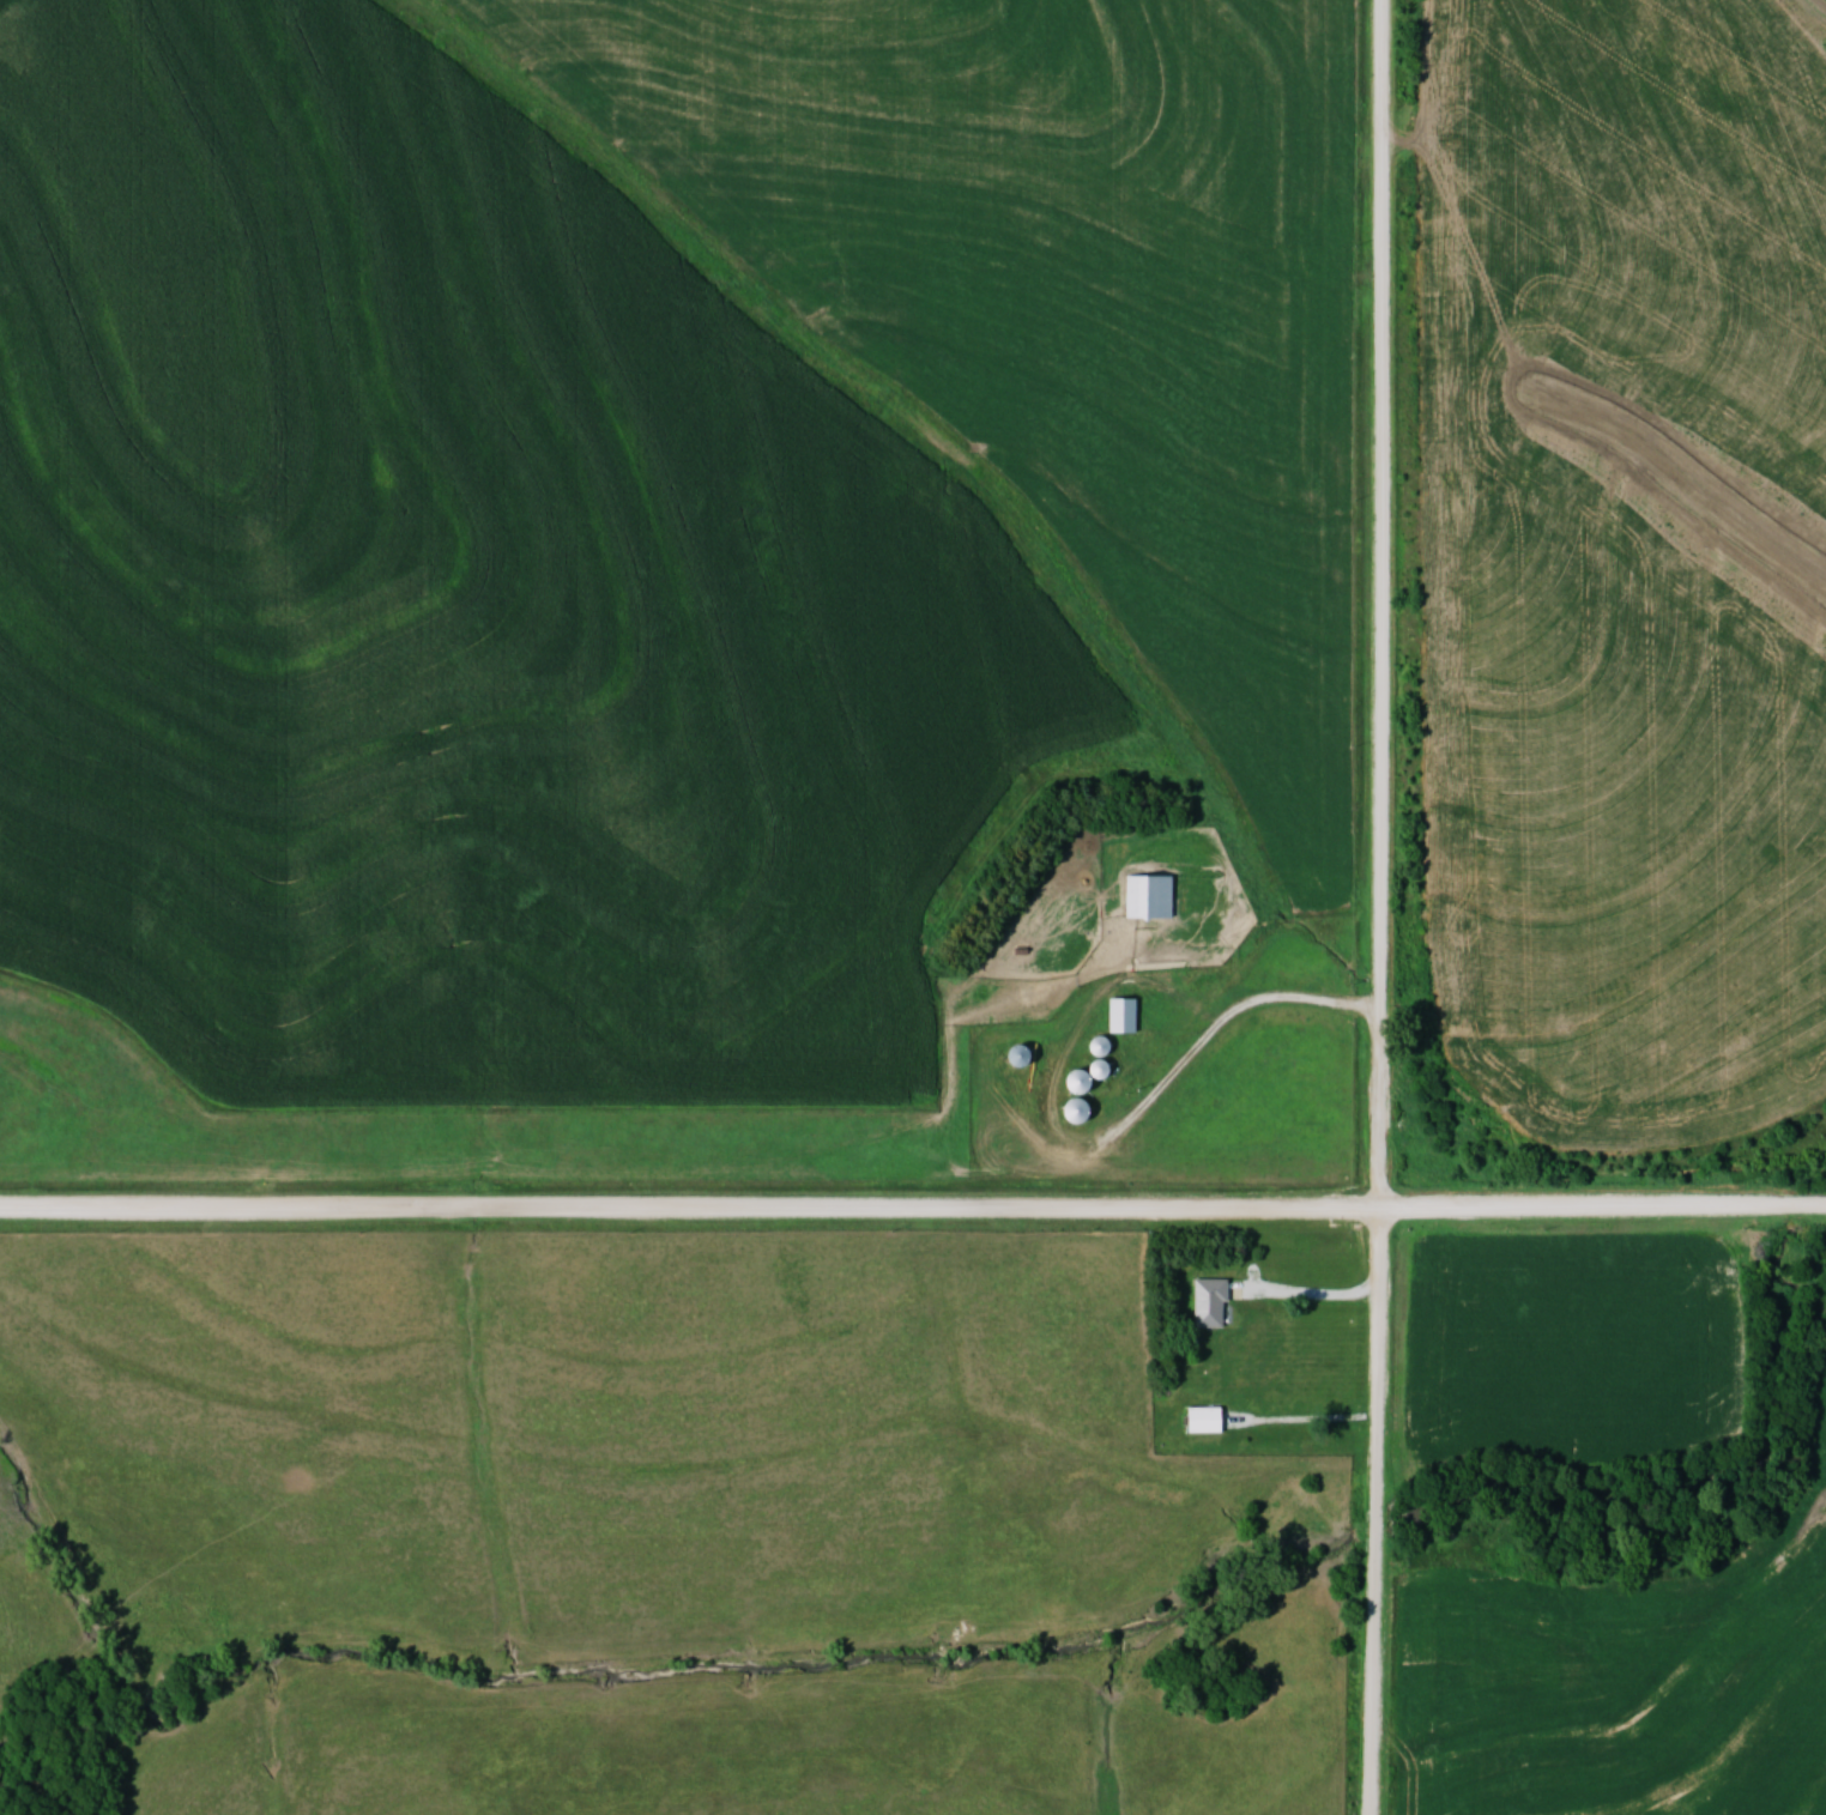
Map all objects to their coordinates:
building: (1153, 896)
road: (1384, 907)
building: (1126, 1015)
building: (1026, 1055)
building: (1086, 1081)
building: (1082, 1111)
road: (913, 1210)
road: (1308, 1301)
building: (1214, 1303)
building: (1210, 1420)

